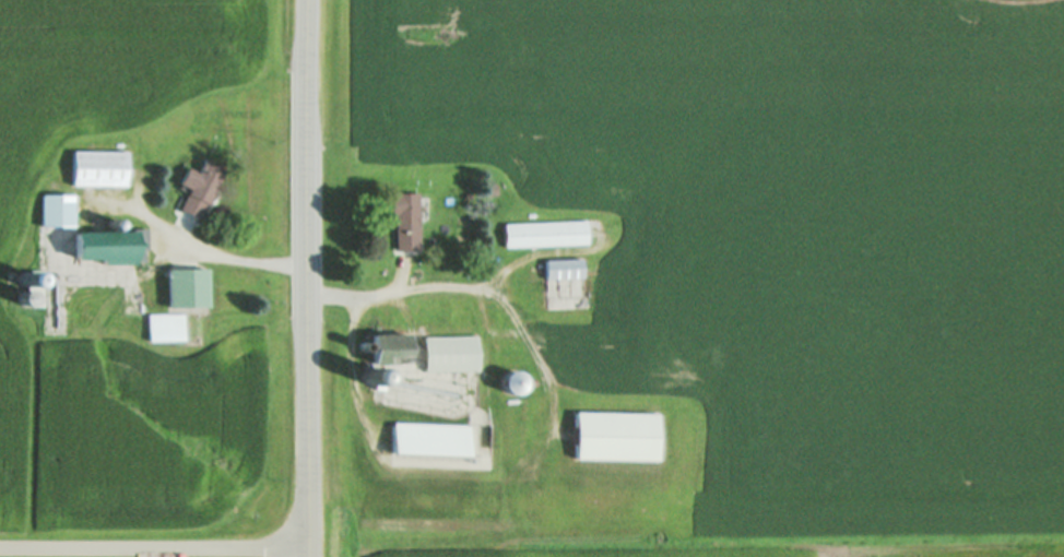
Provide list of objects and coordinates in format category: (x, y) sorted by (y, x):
building: (98, 168)
building: (199, 186)
building: (57, 210)
building: (405, 220)
building: (545, 234)
building: (111, 246)
road: (198, 248)
road: (544, 254)
building: (564, 269)
road: (310, 277)
road: (404, 277)
building: (186, 287)
road: (487, 291)
building: (29, 293)
building: (165, 327)
road: (488, 345)
building: (387, 349)
building: (450, 353)
road: (366, 425)
building: (615, 435)
building: (428, 439)
road: (155, 549)

